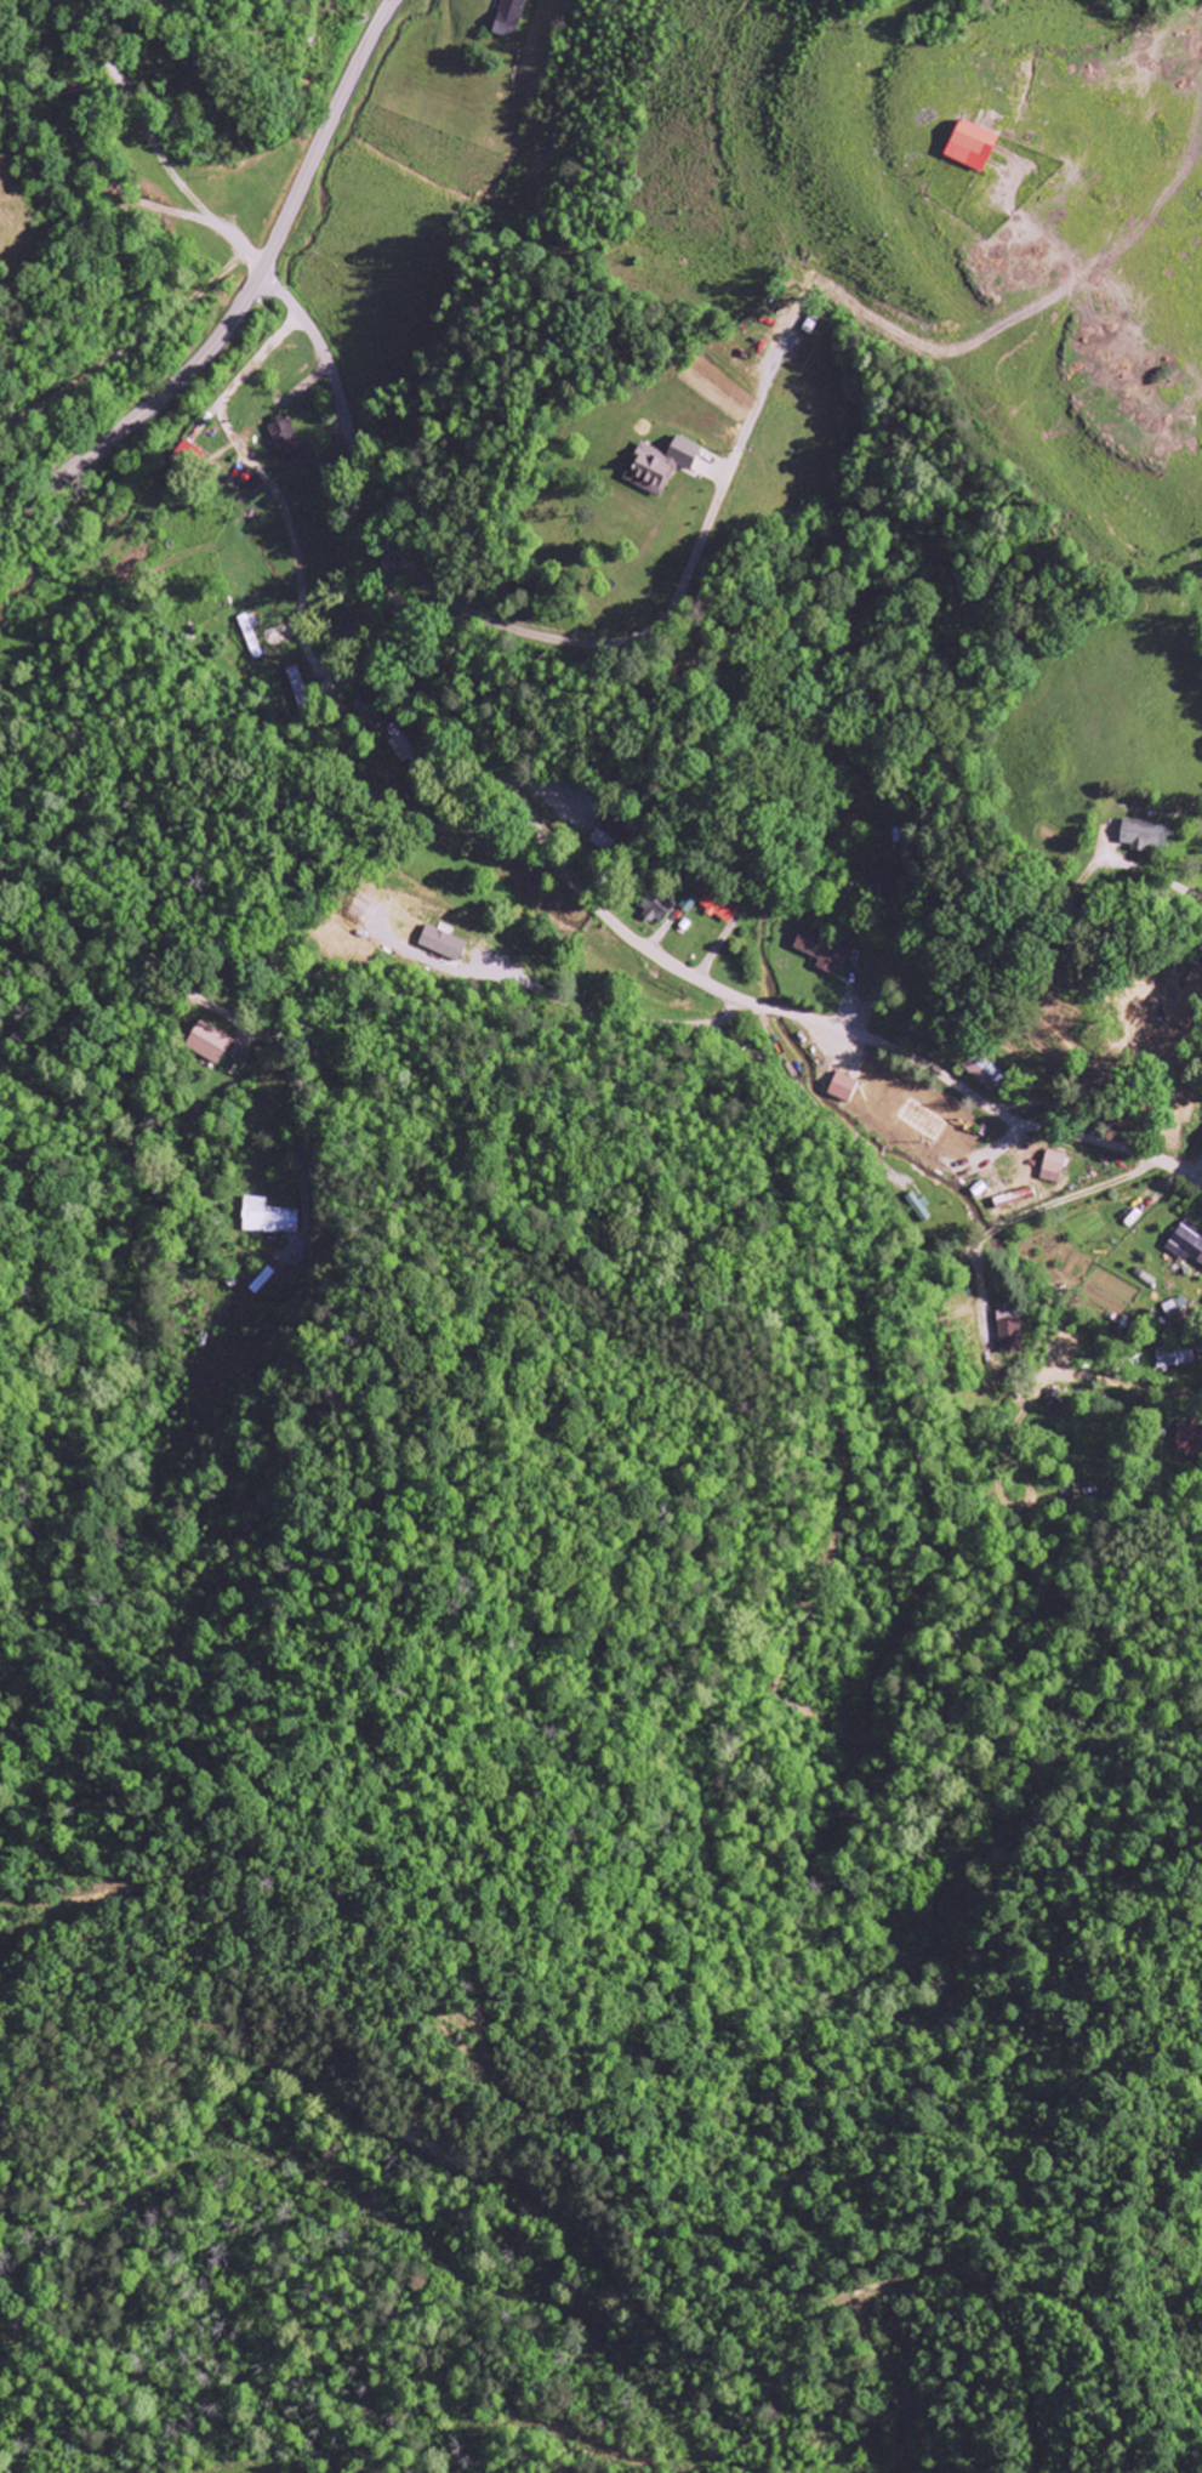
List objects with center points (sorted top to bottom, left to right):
building: (508, 18)
road: (156, 147)
building: (975, 147)
road: (246, 291)
building: (284, 440)
building: (182, 464)
building: (660, 465)
building: (294, 677)
building: (1144, 835)
road: (575, 886)
building: (688, 903)
building: (656, 908)
building: (717, 909)
building: (442, 944)
building: (820, 953)
road: (313, 977)
building: (209, 1044)
building: (984, 1074)
building: (843, 1088)
building: (895, 1108)
building: (1053, 1167)
building: (1015, 1199)
building: (267, 1218)
building: (1186, 1244)
road: (845, 1309)
building: (1173, 1311)
building: (1008, 1332)
building: (1174, 1358)

